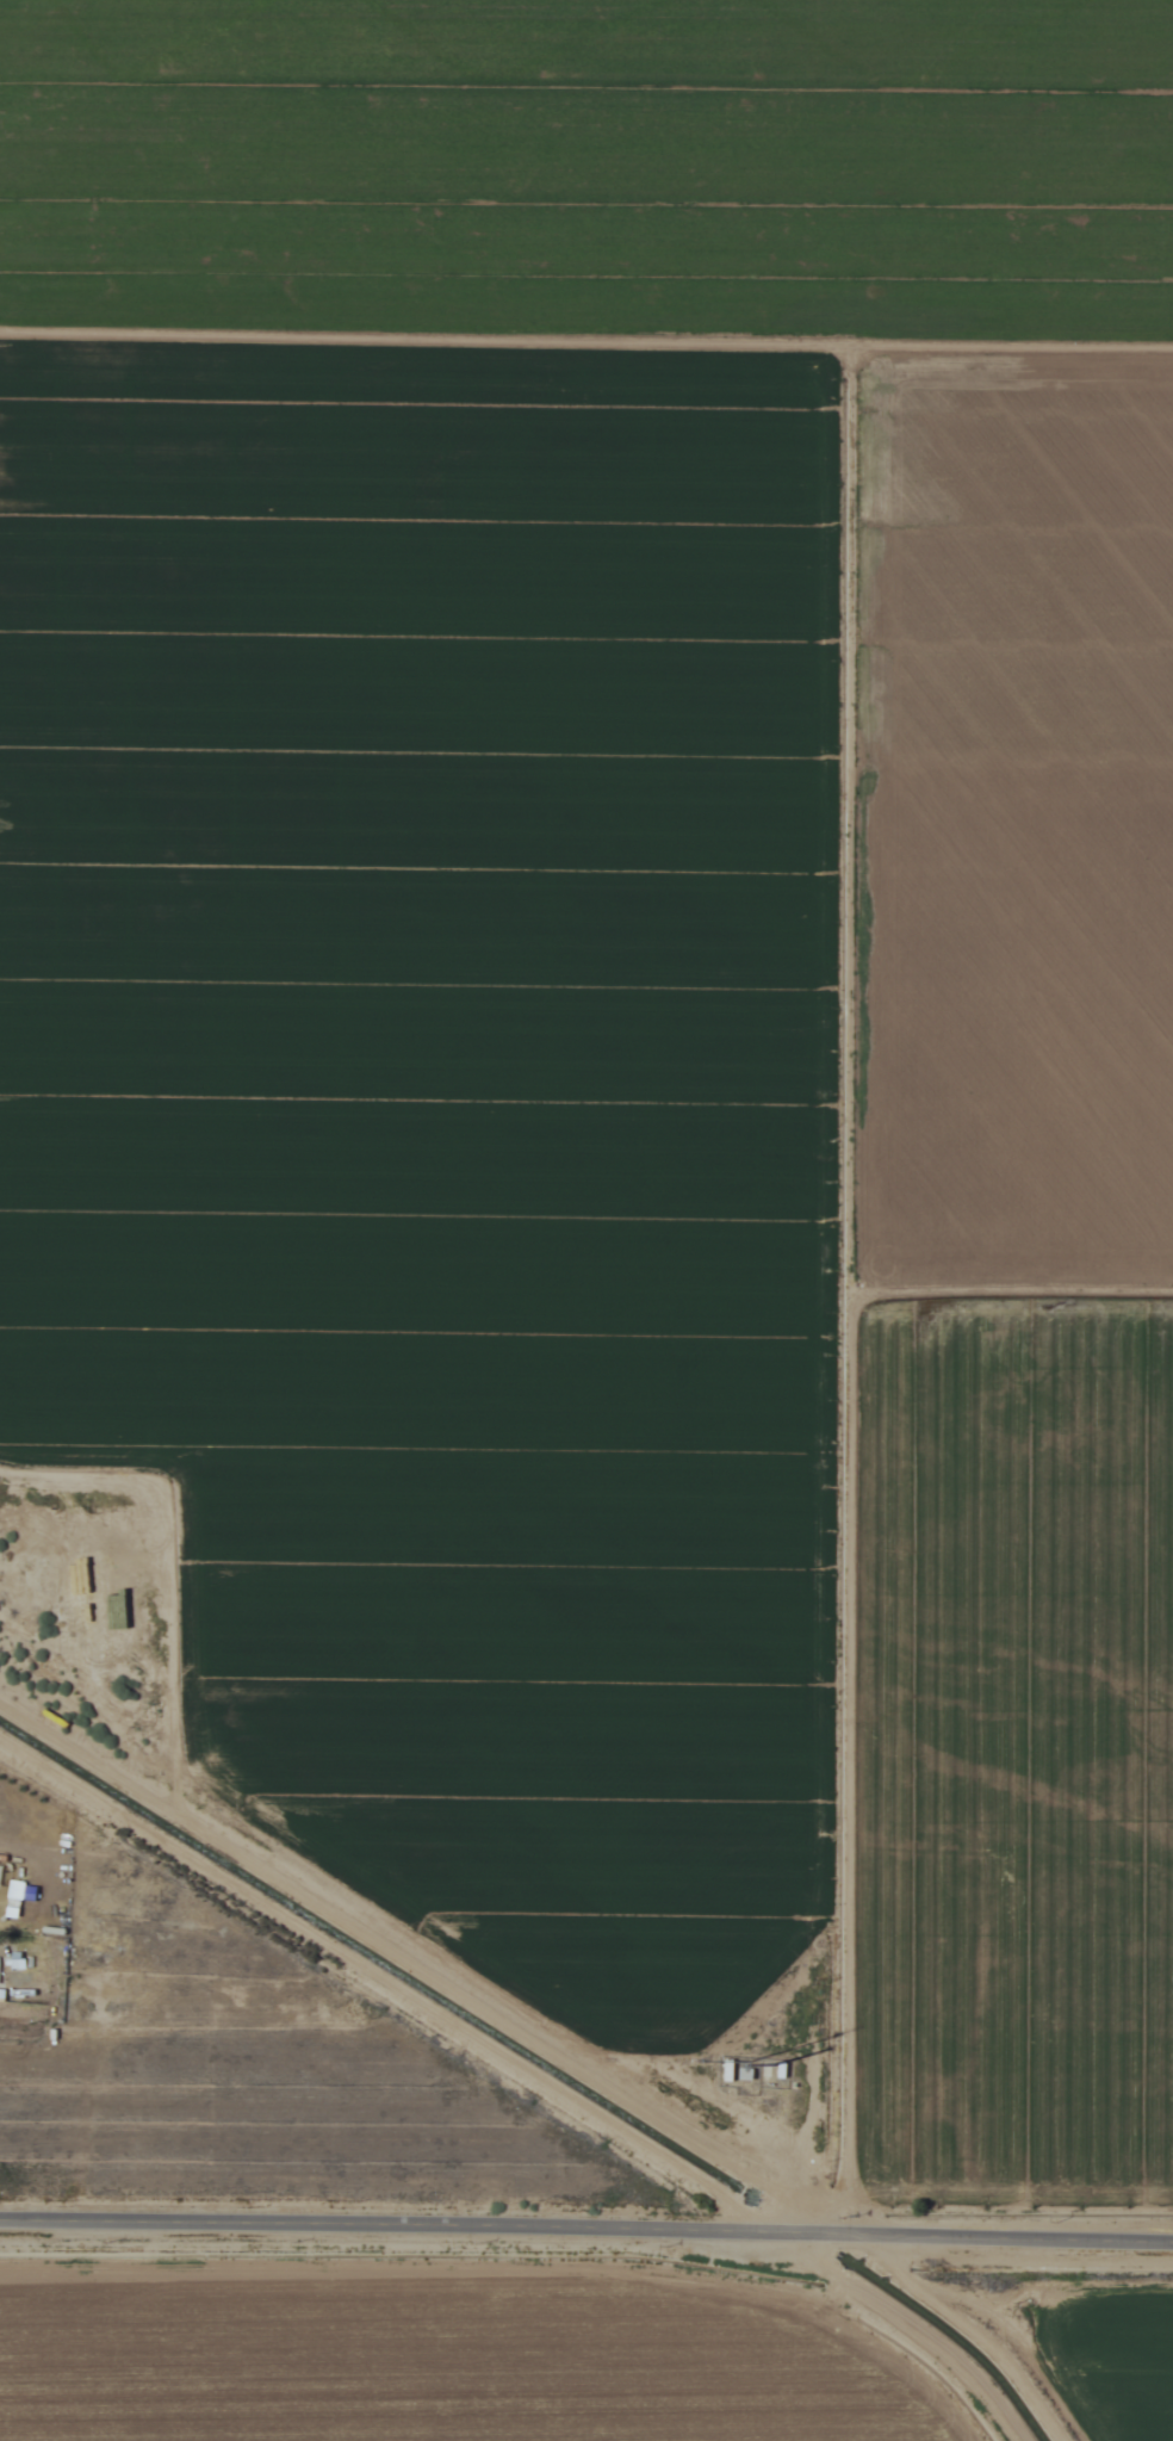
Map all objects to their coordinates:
road: (557, 2042)
road: (586, 2219)

